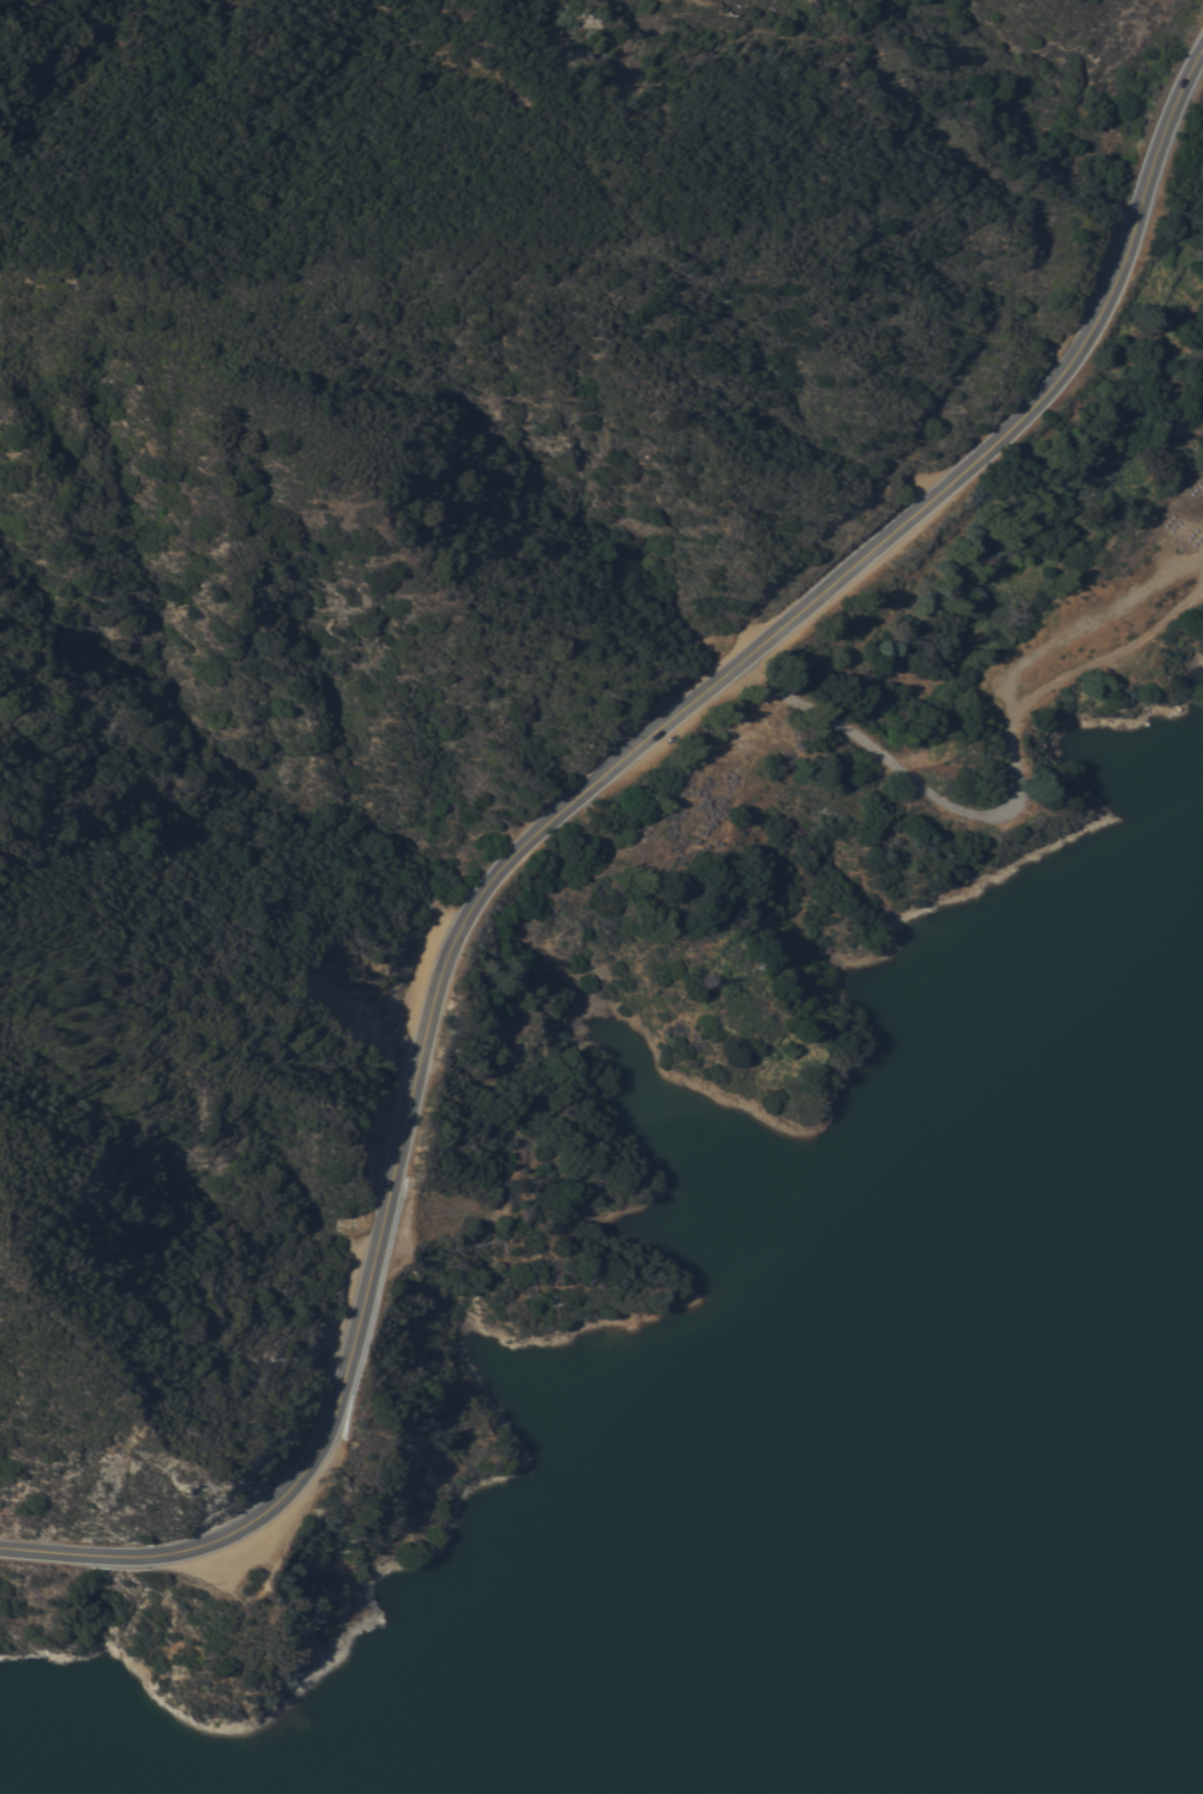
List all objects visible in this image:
road: (975, 815)
road: (549, 819)
parking lot: (245, 1552)
river: (1066, 1658)

